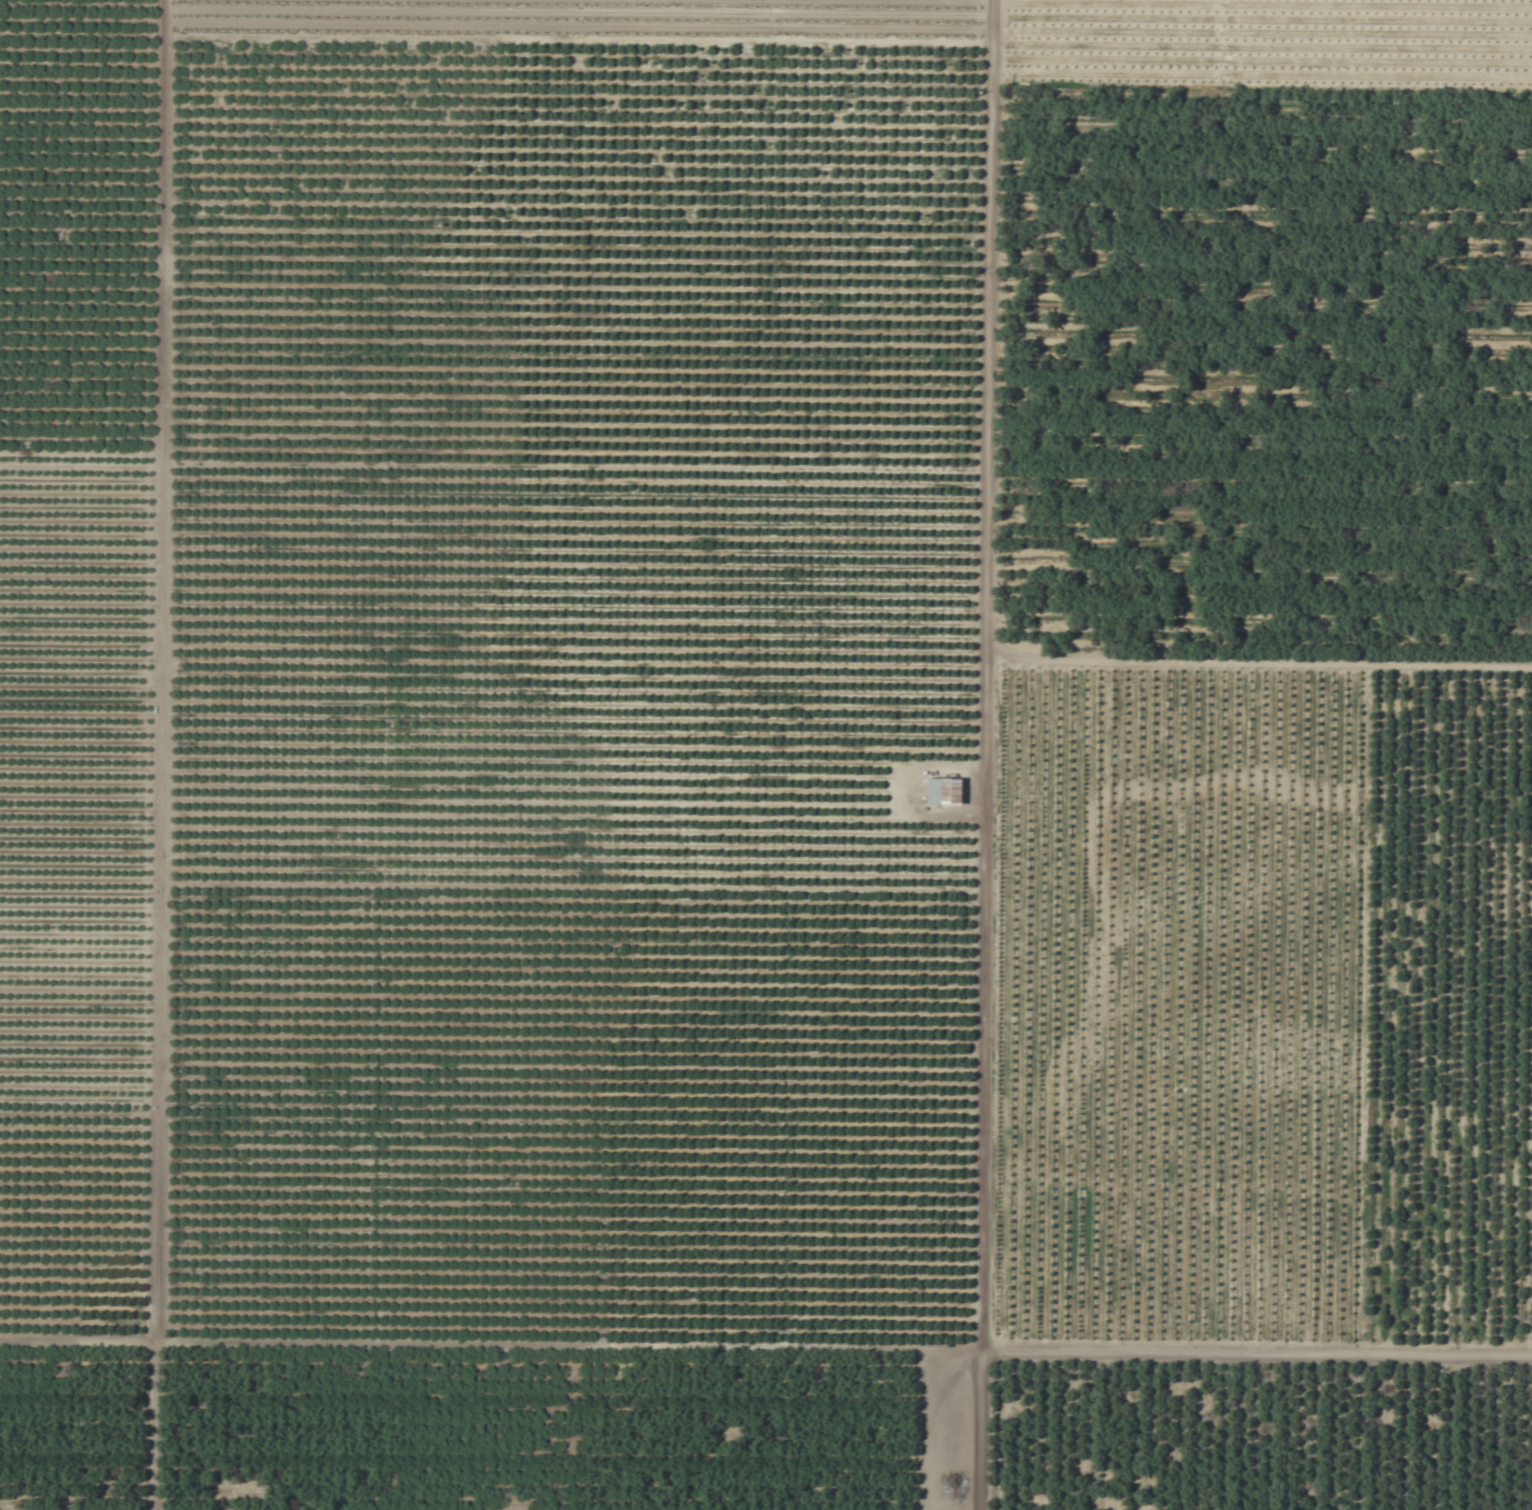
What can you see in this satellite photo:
road: (1257, 667)
road: (981, 668)
road: (153, 669)
crop: (766, 755)
building: (943, 792)
road: (766, 1338)

